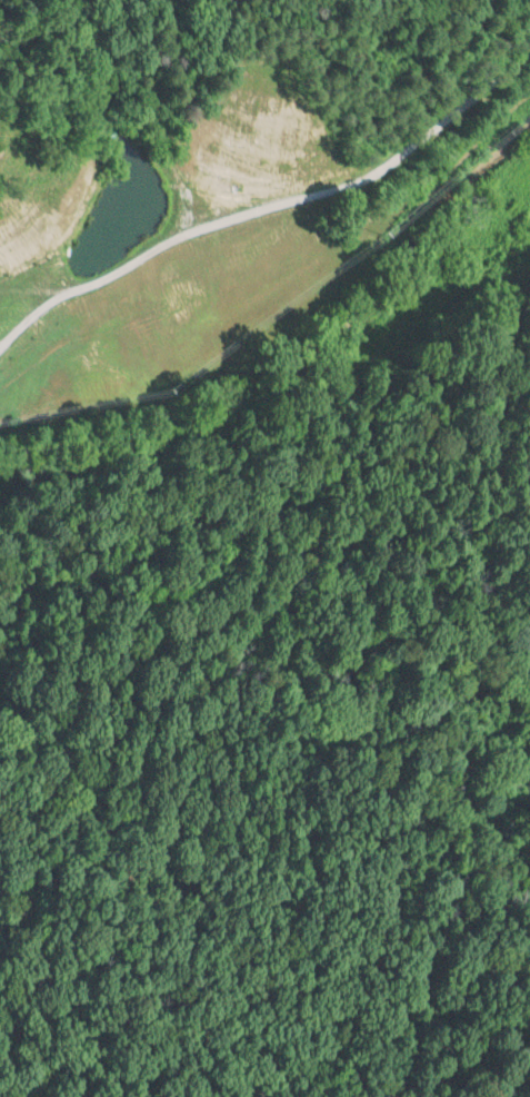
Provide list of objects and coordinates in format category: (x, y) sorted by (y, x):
road: (274, 199)

